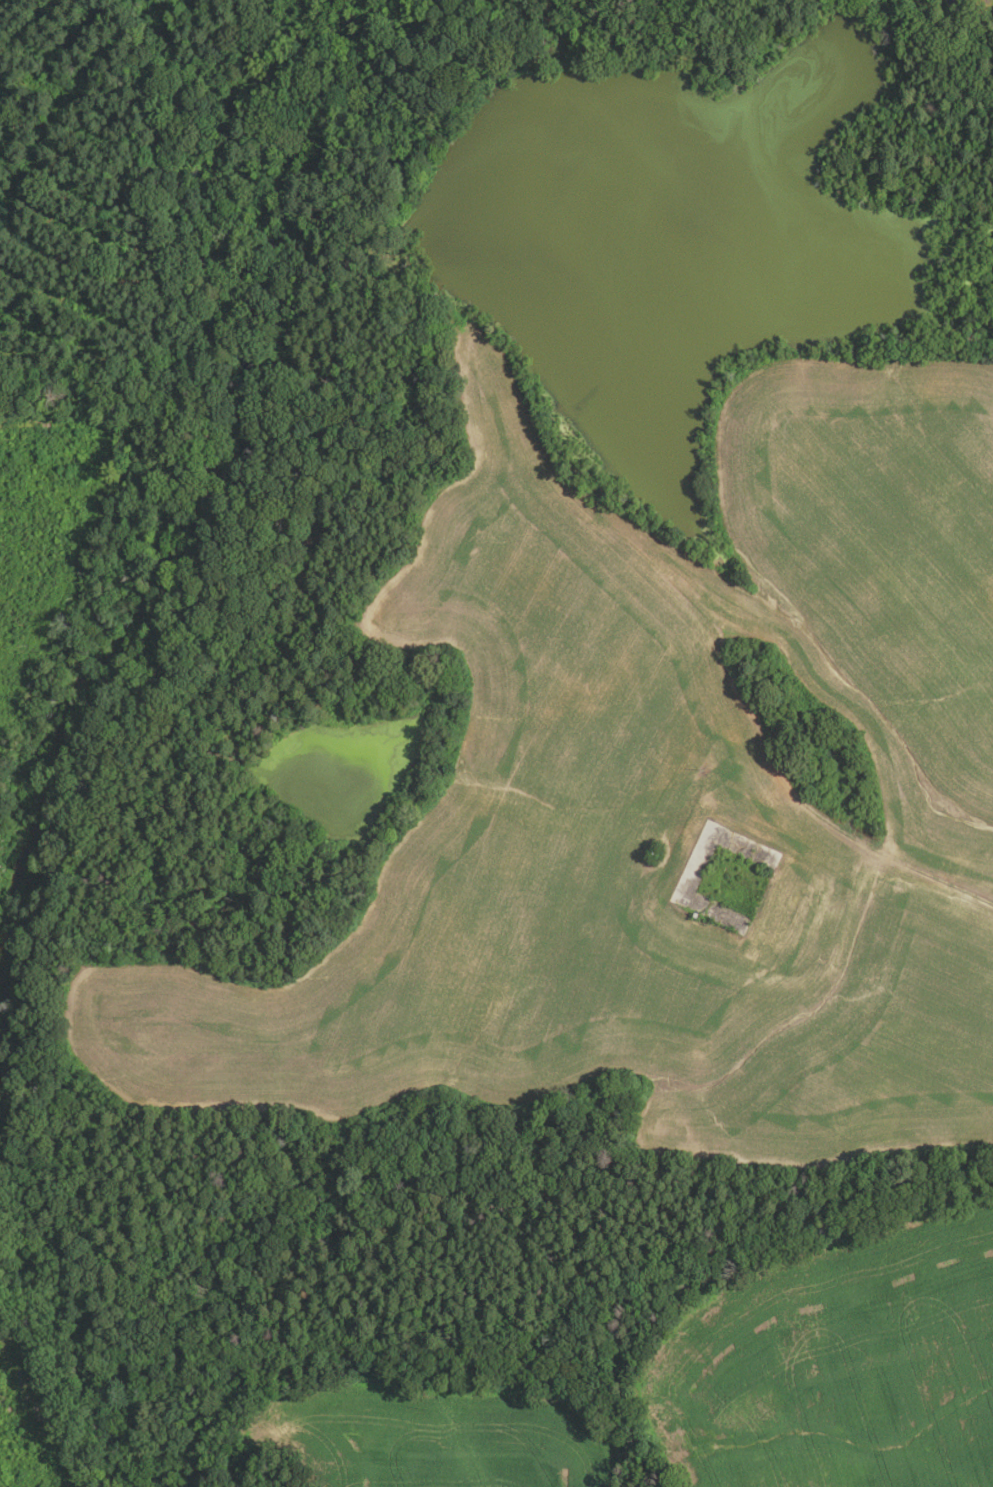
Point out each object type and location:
road: (895, 862)

